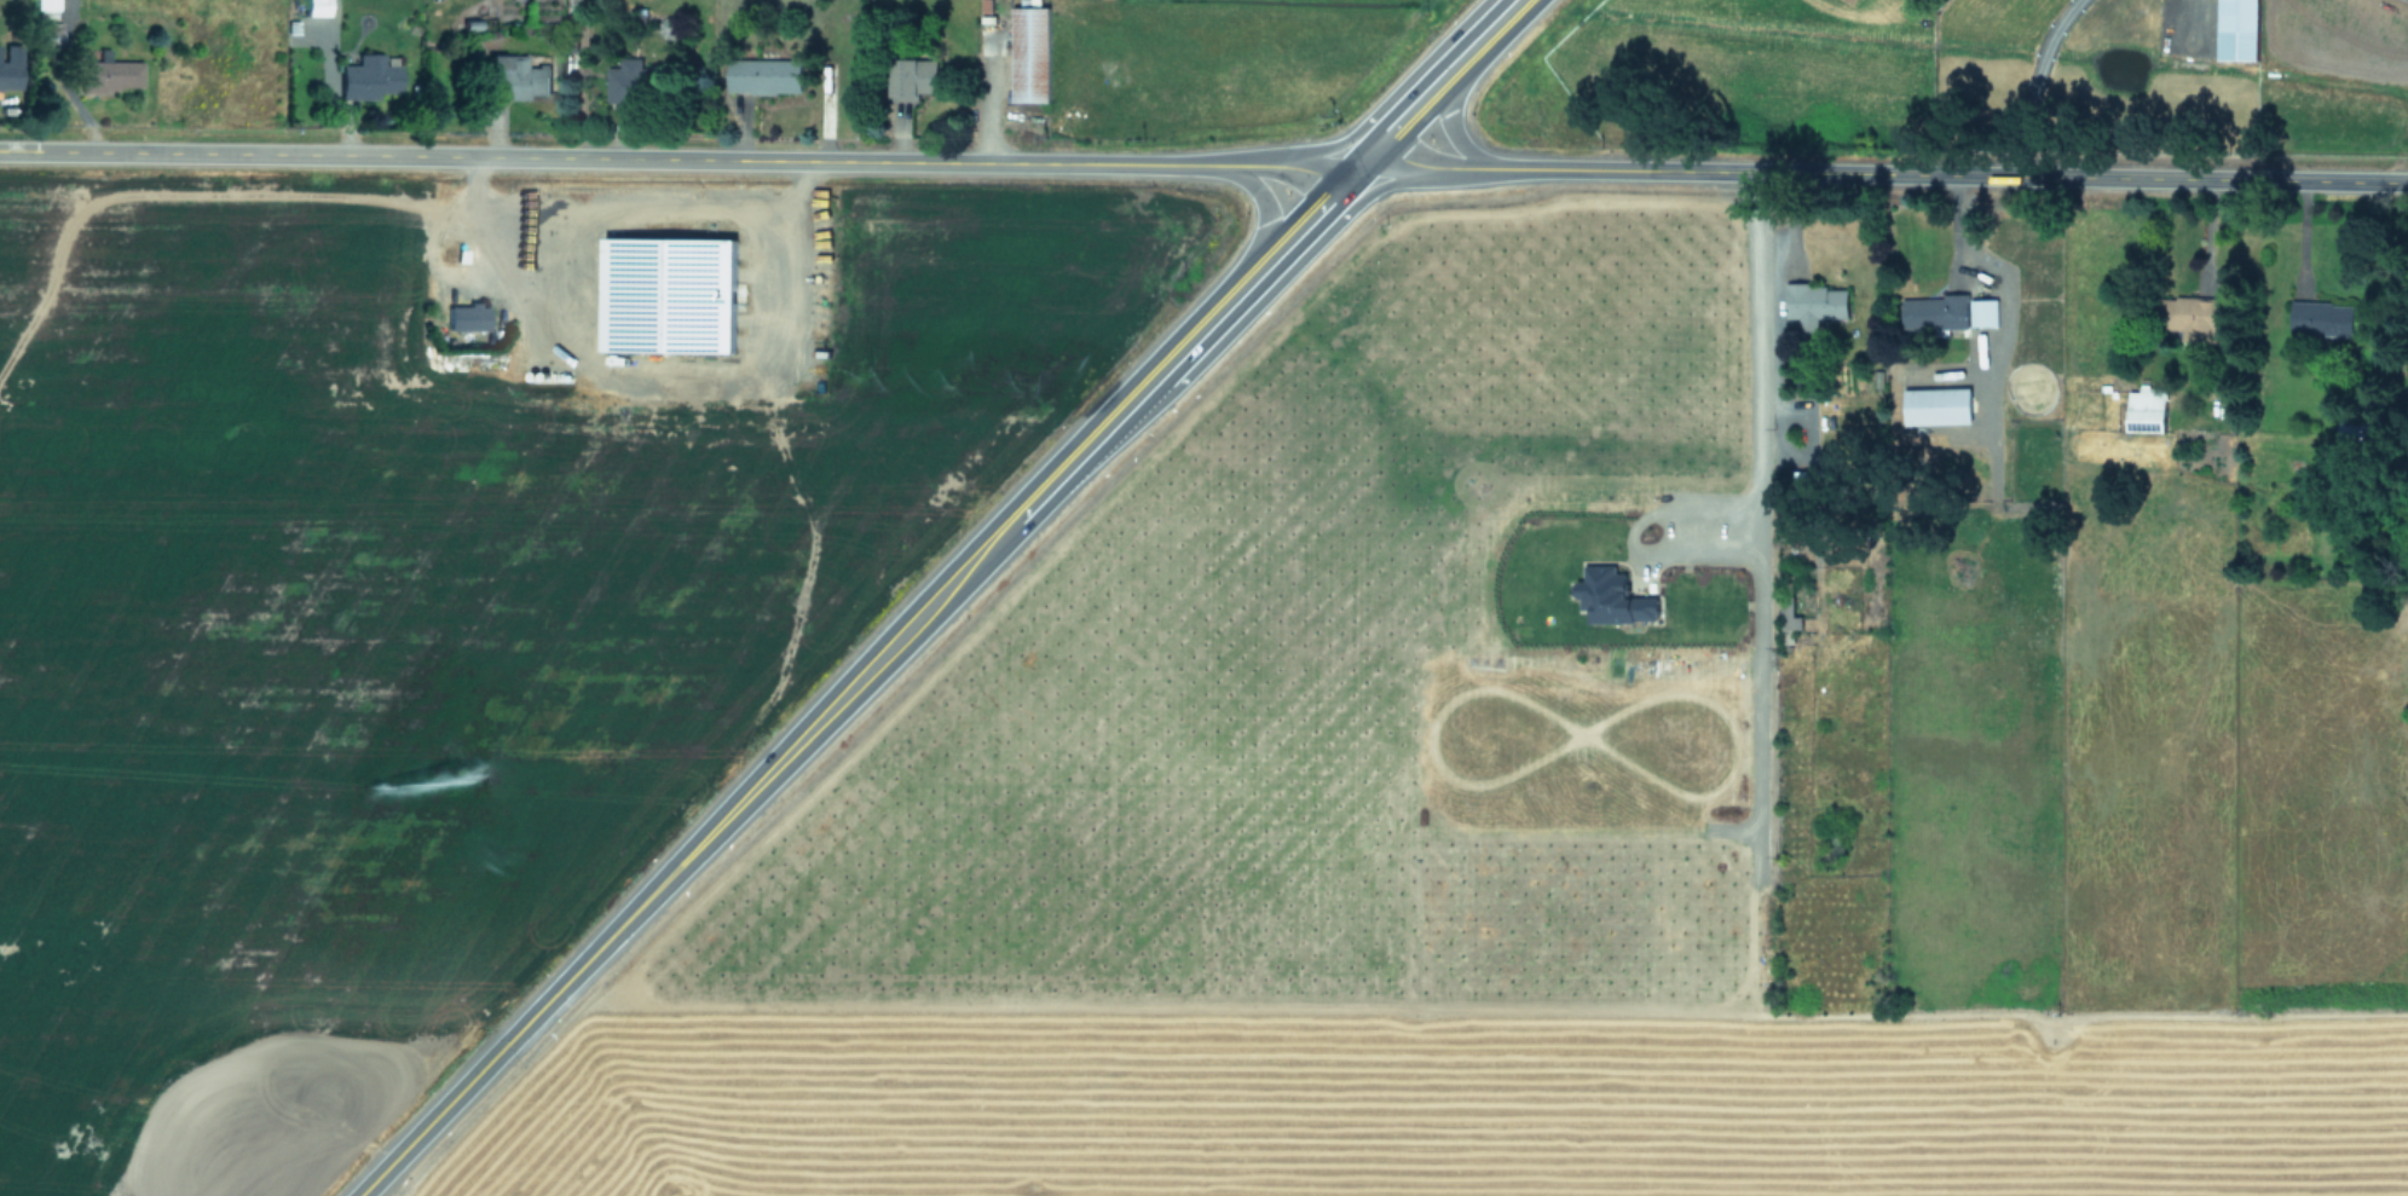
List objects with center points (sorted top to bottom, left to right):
building: (317, 8)
building: (46, 10)
building: (2239, 31)
road: (1485, 36)
building: (48, 37)
building: (1030, 53)
crop: (721, 60)
building: (8, 77)
building: (109, 79)
building: (516, 80)
building: (763, 80)
building: (368, 81)
building: (914, 81)
building: (626, 83)
road: (2035, 85)
road: (1390, 102)
road: (1409, 112)
road: (1454, 128)
road: (602, 160)
road: (1405, 162)
road: (1236, 167)
road: (1356, 169)
road: (1304, 171)
road: (1465, 171)
road: (1947, 178)
road: (1263, 200)
road: (1303, 226)
road: (1257, 306)
building: (1815, 307)
building: (1983, 314)
building: (1935, 316)
building: (2187, 316)
building: (467, 319)
building: (2323, 322)
road: (1172, 363)
road: (1748, 365)
building: (1812, 376)
road: (664, 386)
building: (2147, 414)
building: (2357, 432)
building: (1798, 487)
building: (1791, 609)
crop: (1190, 758)
road: (718, 826)

